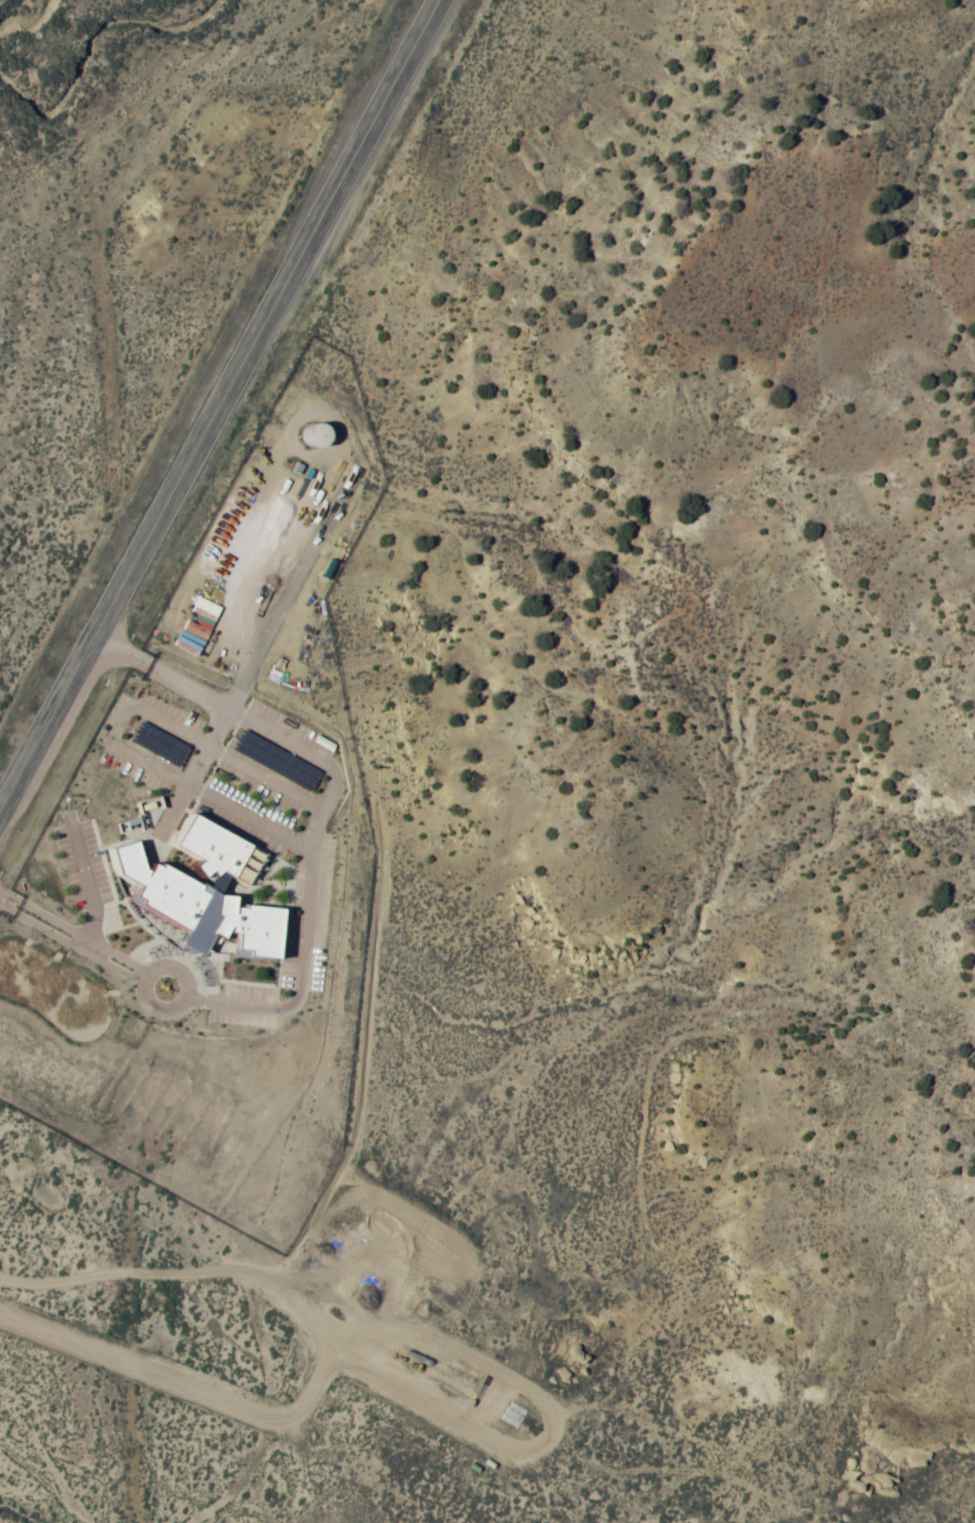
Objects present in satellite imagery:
road: (220, 407)

